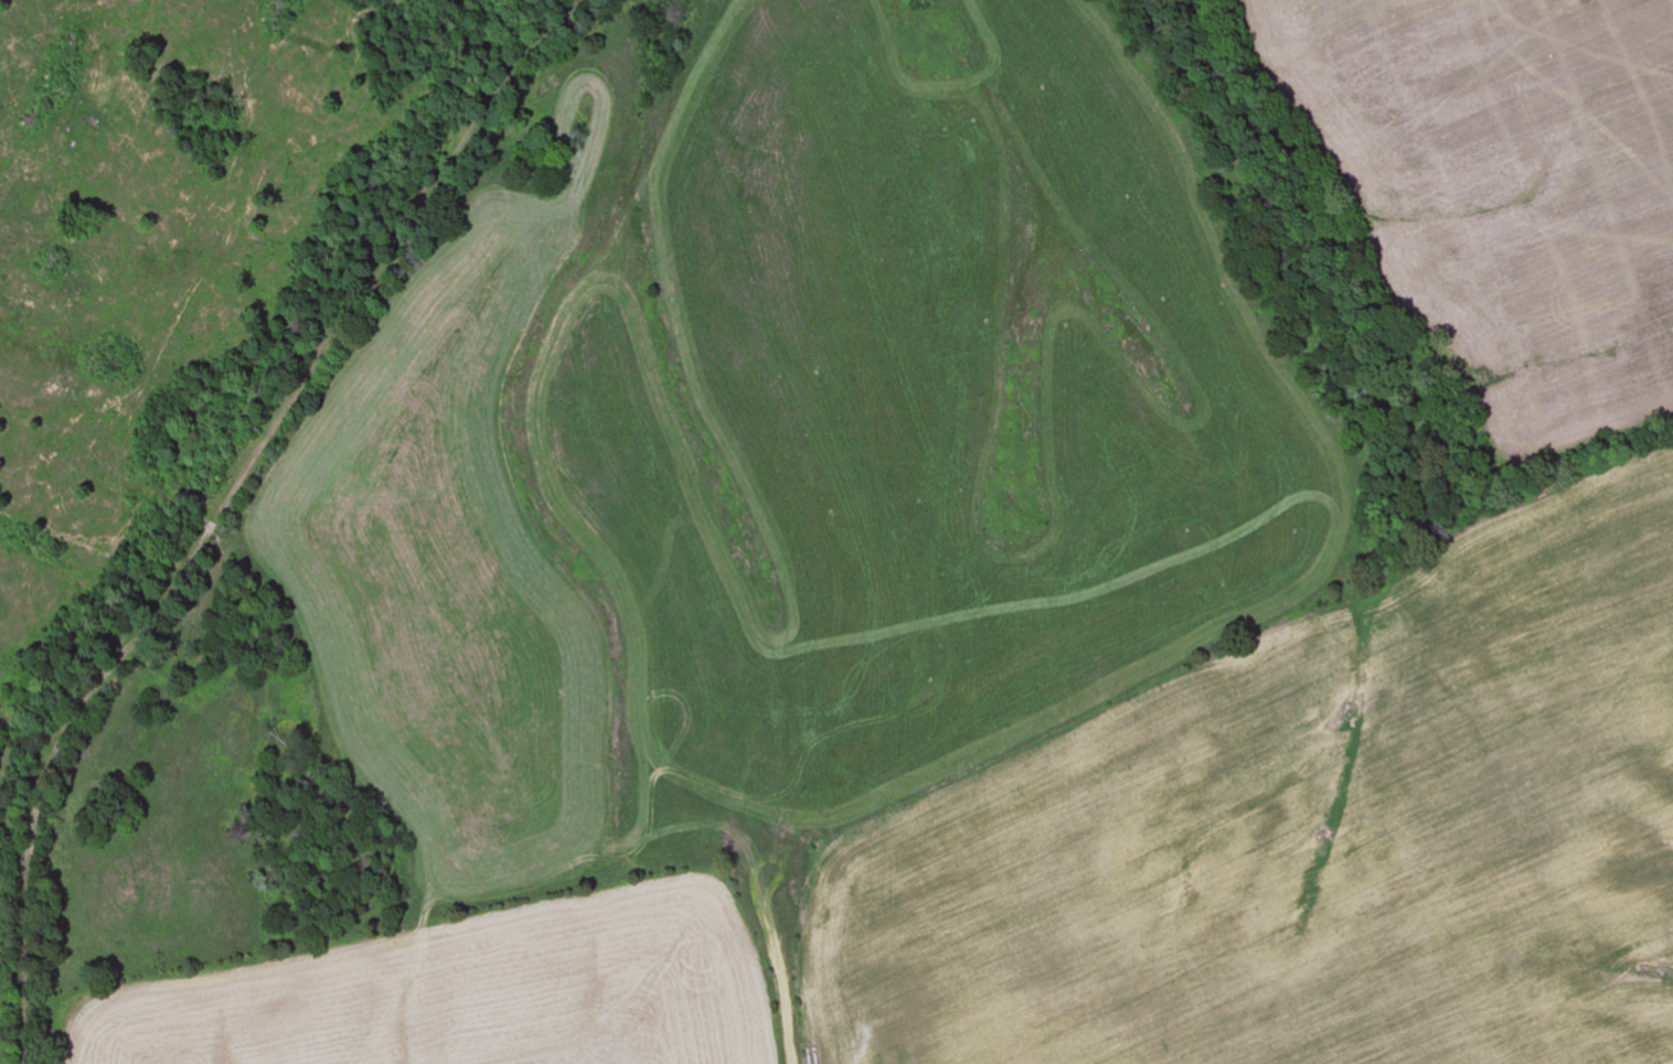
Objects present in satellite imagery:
road: (230, 507)

